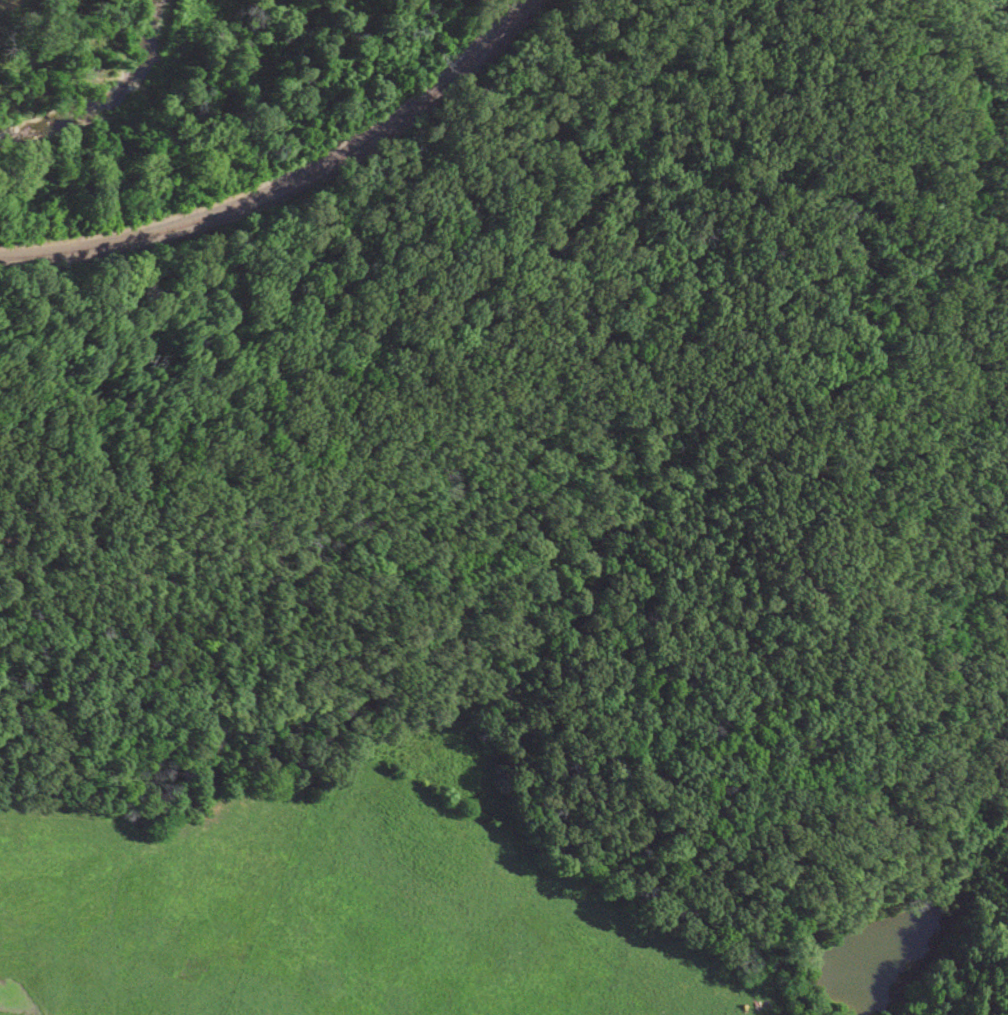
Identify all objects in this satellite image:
railway: (293, 187)

